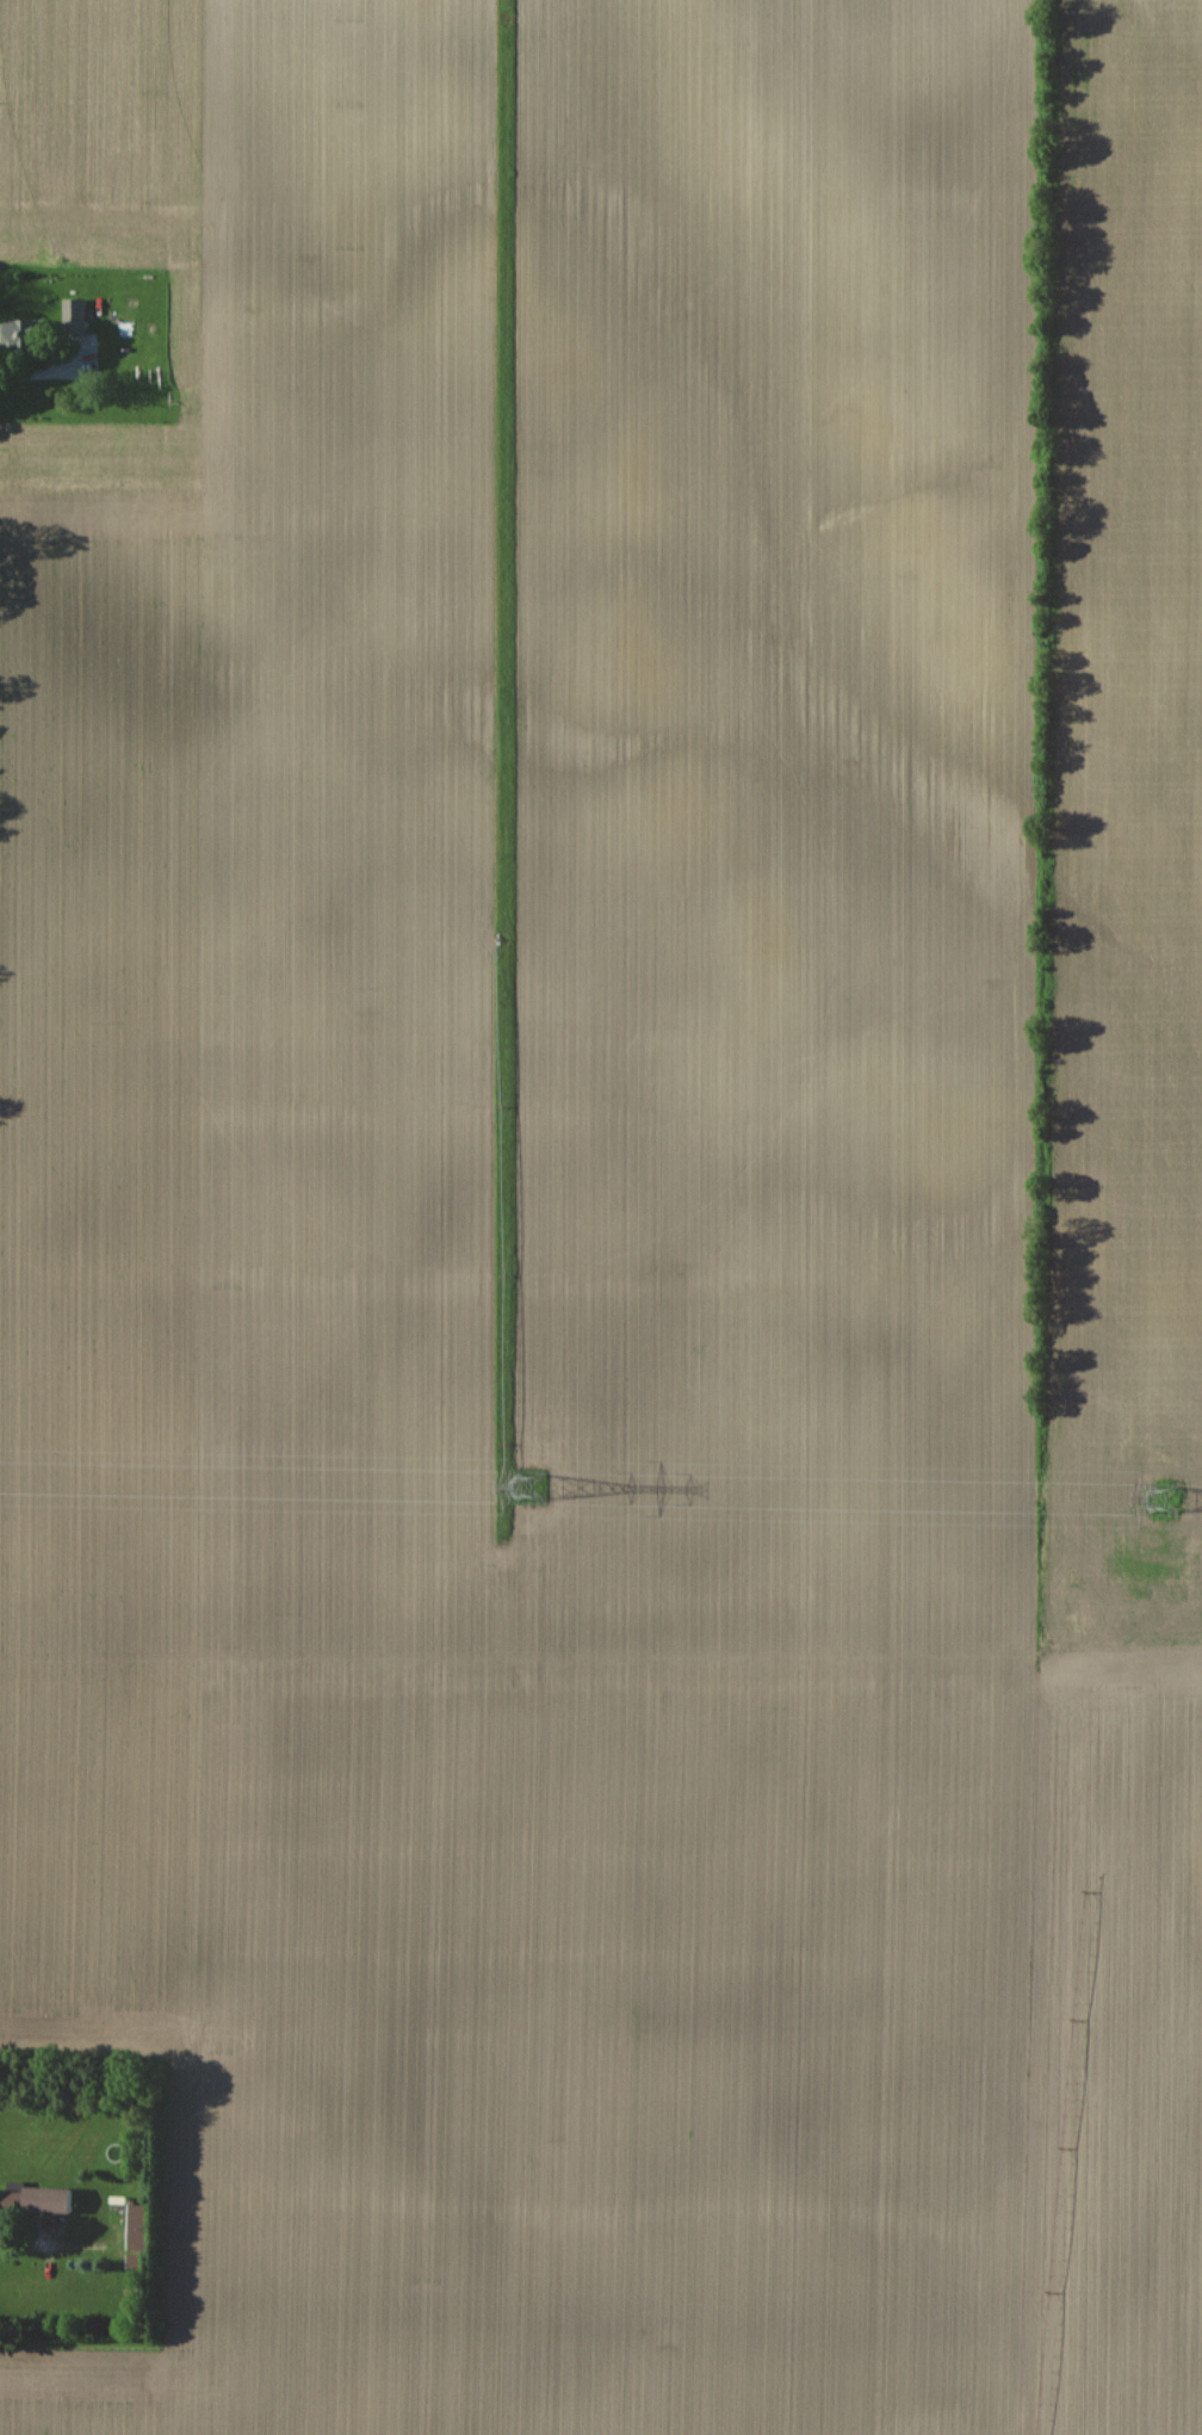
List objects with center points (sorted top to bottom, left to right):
building: (69, 319)
building: (23, 334)
road: (35, 373)
power tower: (531, 1485)
power tower: (1160, 1500)
building: (33, 2200)
building: (136, 2227)
road: (29, 2238)

